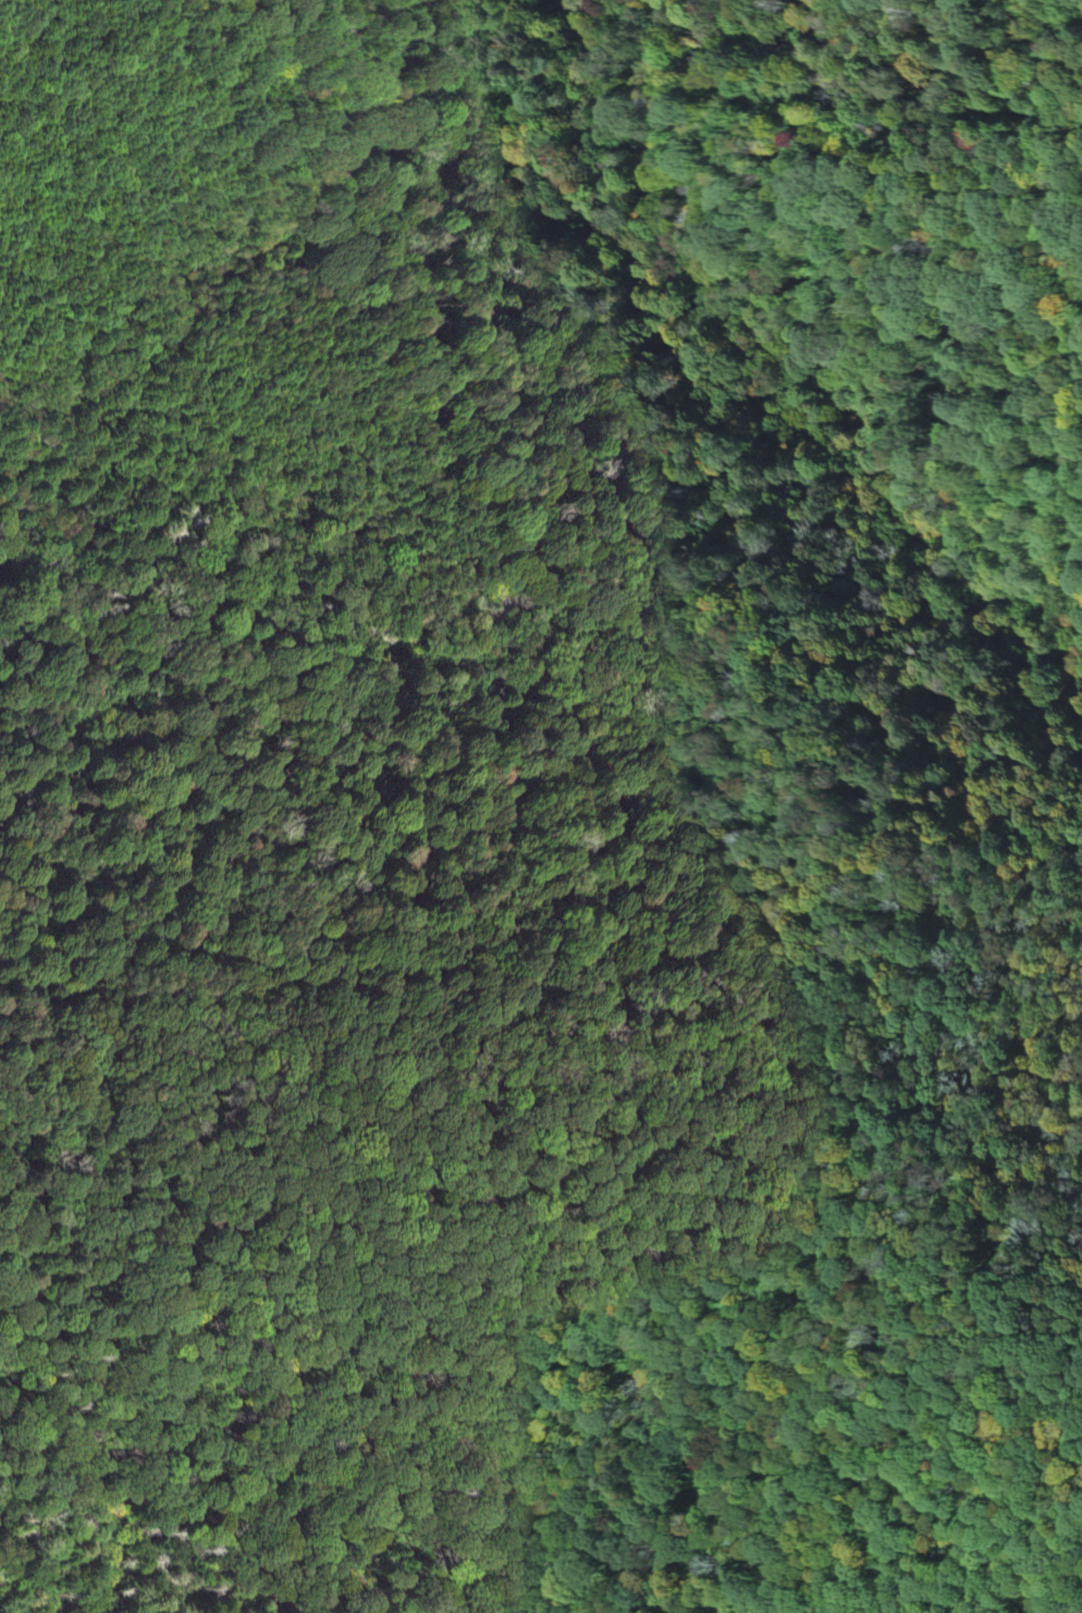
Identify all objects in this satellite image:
road: (578, 1238)

